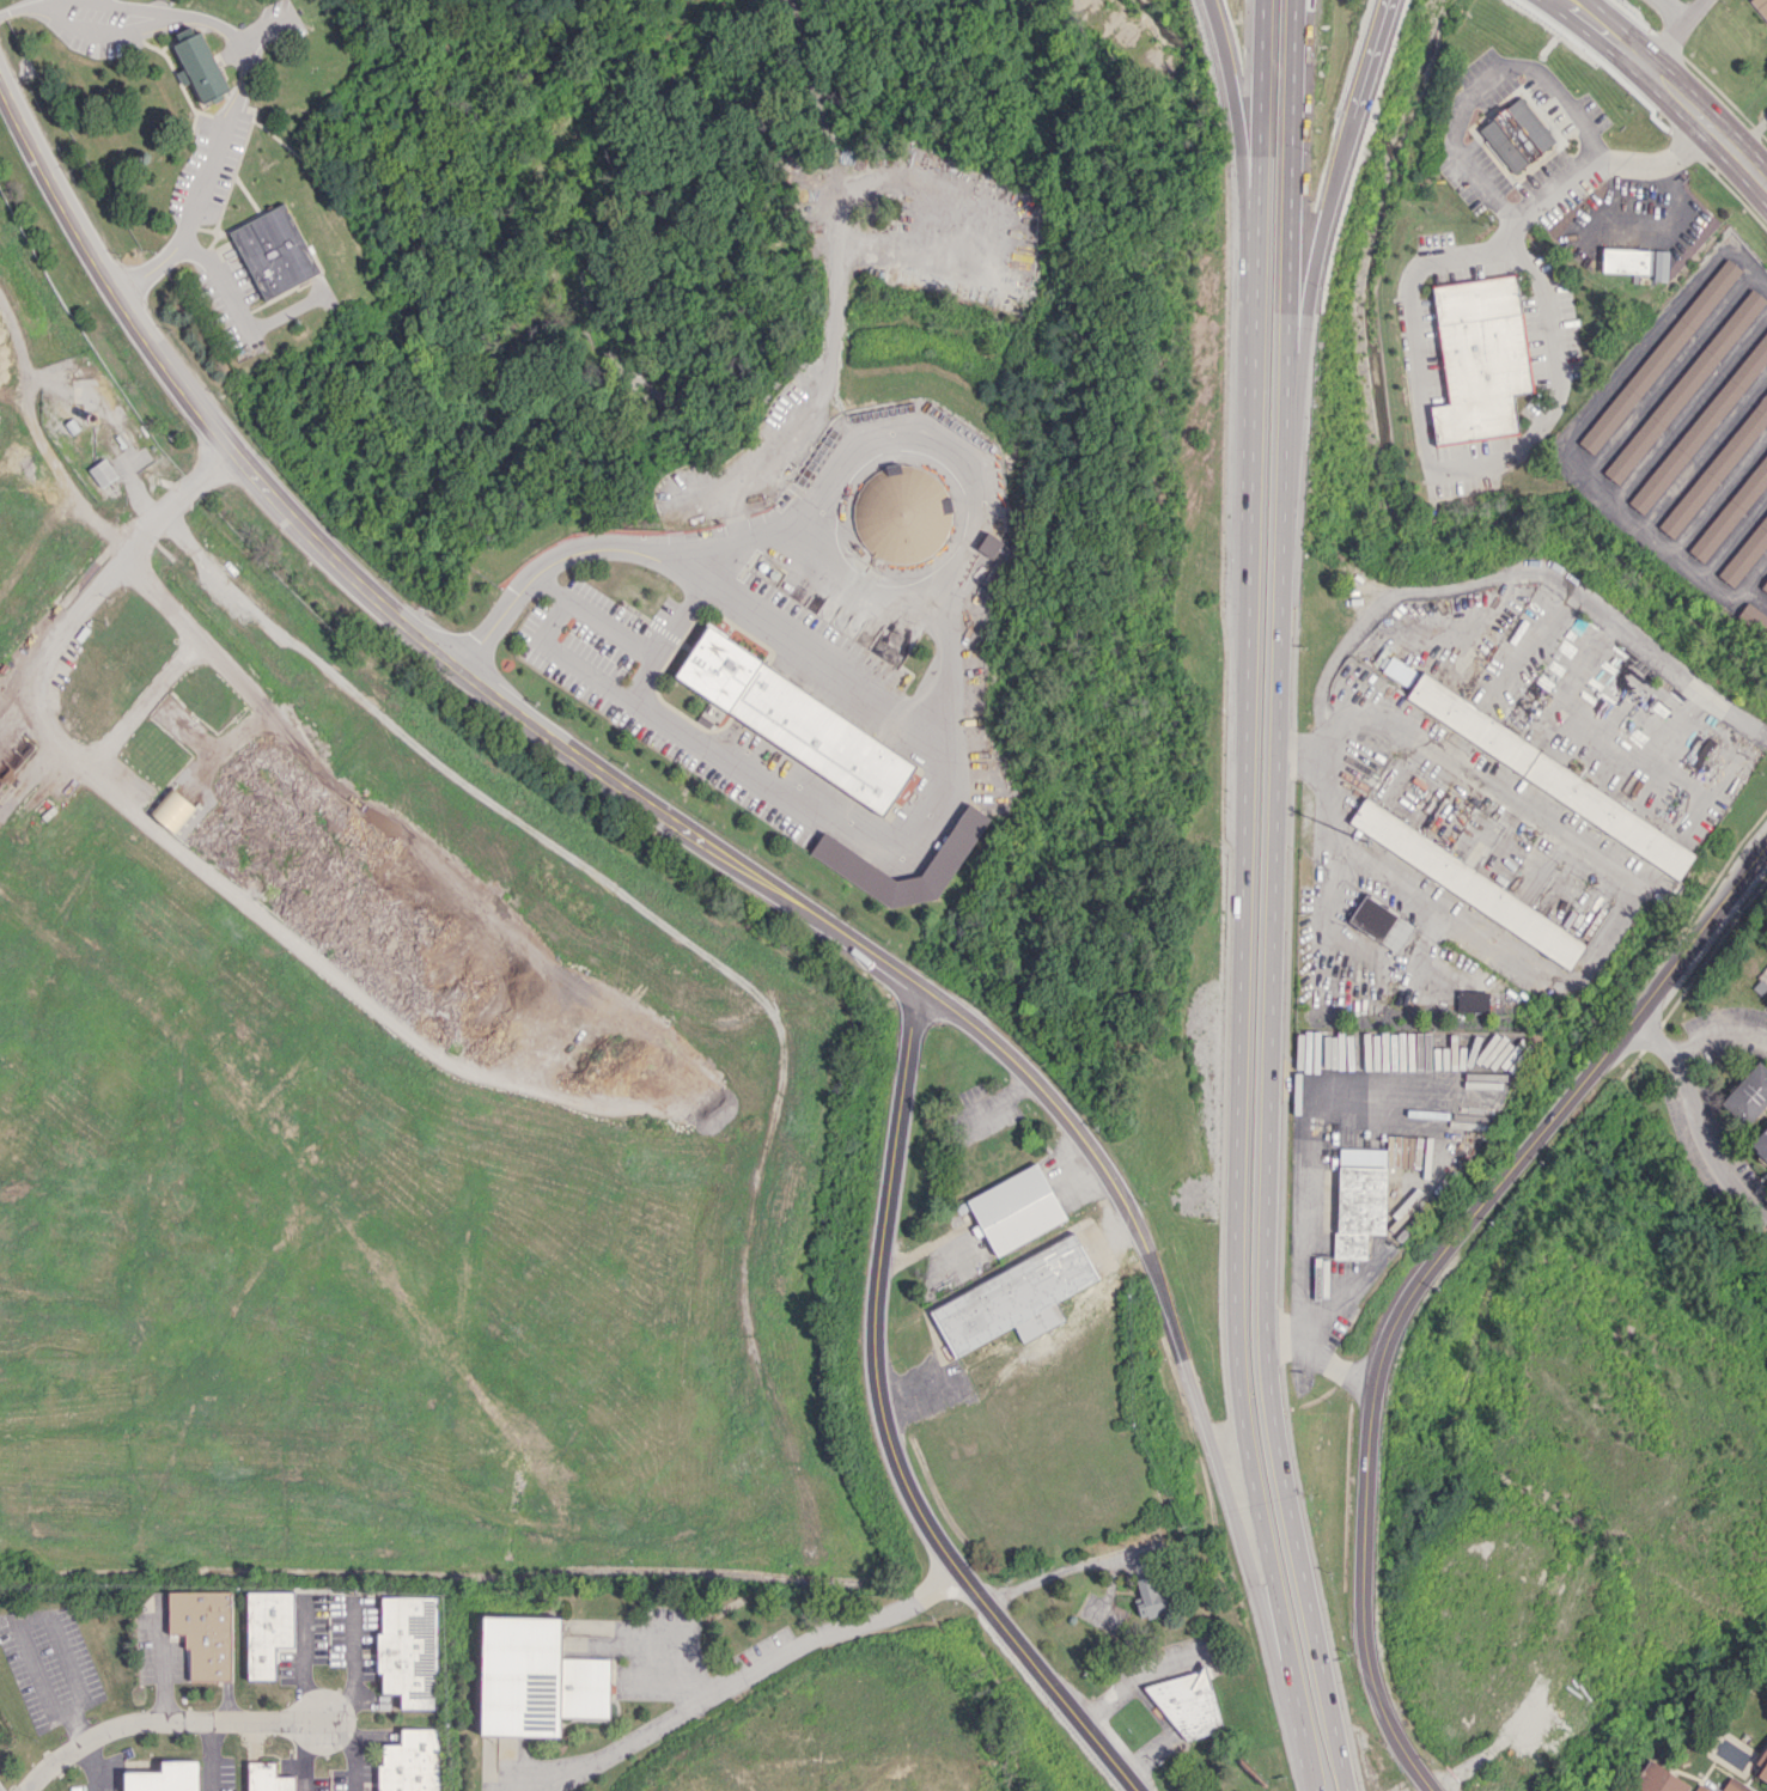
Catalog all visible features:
road: (25, 5)
building: (1760, 7)
road: (1674, 11)
road: (1623, 26)
road: (1674, 32)
road: (1586, 37)
building: (200, 67)
road: (1482, 85)
road: (236, 93)
road: (1233, 104)
building: (1516, 134)
road: (1705, 134)
road: (1334, 184)
road: (1670, 225)
building: (274, 250)
building: (1625, 261)
building: (1659, 266)
building: (1659, 355)
road: (1416, 357)
building: (1480, 358)
building: (1683, 385)
building: (1702, 425)
road: (939, 441)
road: (47, 447)
building: (1717, 469)
building: (102, 473)
road: (191, 480)
building: (1731, 511)
building: (901, 513)
building: (989, 544)
building: (1745, 554)
road: (1517, 569)
road: (867, 580)
building: (1763, 586)
road: (553, 587)
building: (1754, 620)
building: (1399, 670)
road: (636, 675)
road: (520, 708)
building: (794, 720)
road: (84, 755)
building: (1549, 775)
building: (171, 809)
road: (916, 822)
building: (956, 843)
building: (1467, 882)
road: (1242, 898)
road: (1274, 898)
road: (1619, 919)
building: (1379, 922)
building: (1472, 1000)
road: (1719, 1029)
building: (1748, 1094)
road: (1694, 1121)
building: (1760, 1144)
building: (1359, 1199)
building: (1014, 1208)
road: (1462, 1225)
road: (1303, 1229)
building: (1013, 1298)
road: (882, 1427)
road: (1219, 1478)
road: (1060, 1573)
building: (1151, 1597)
building: (267, 1629)
building: (409, 1650)
road: (352, 1668)
road: (744, 1675)
building: (536, 1677)
building: (1189, 1705)
road: (167, 1719)
road: (1393, 1732)
road: (351, 1753)
road: (319, 1754)
road: (208, 1755)
building: (409, 1761)
road: (92, 1765)
building: (1761, 1768)
building: (164, 1777)
building: (267, 1778)
building: (1656, 1779)
road: (1424, 1783)
building: (1734, 1786)
building: (1699, 1787)

